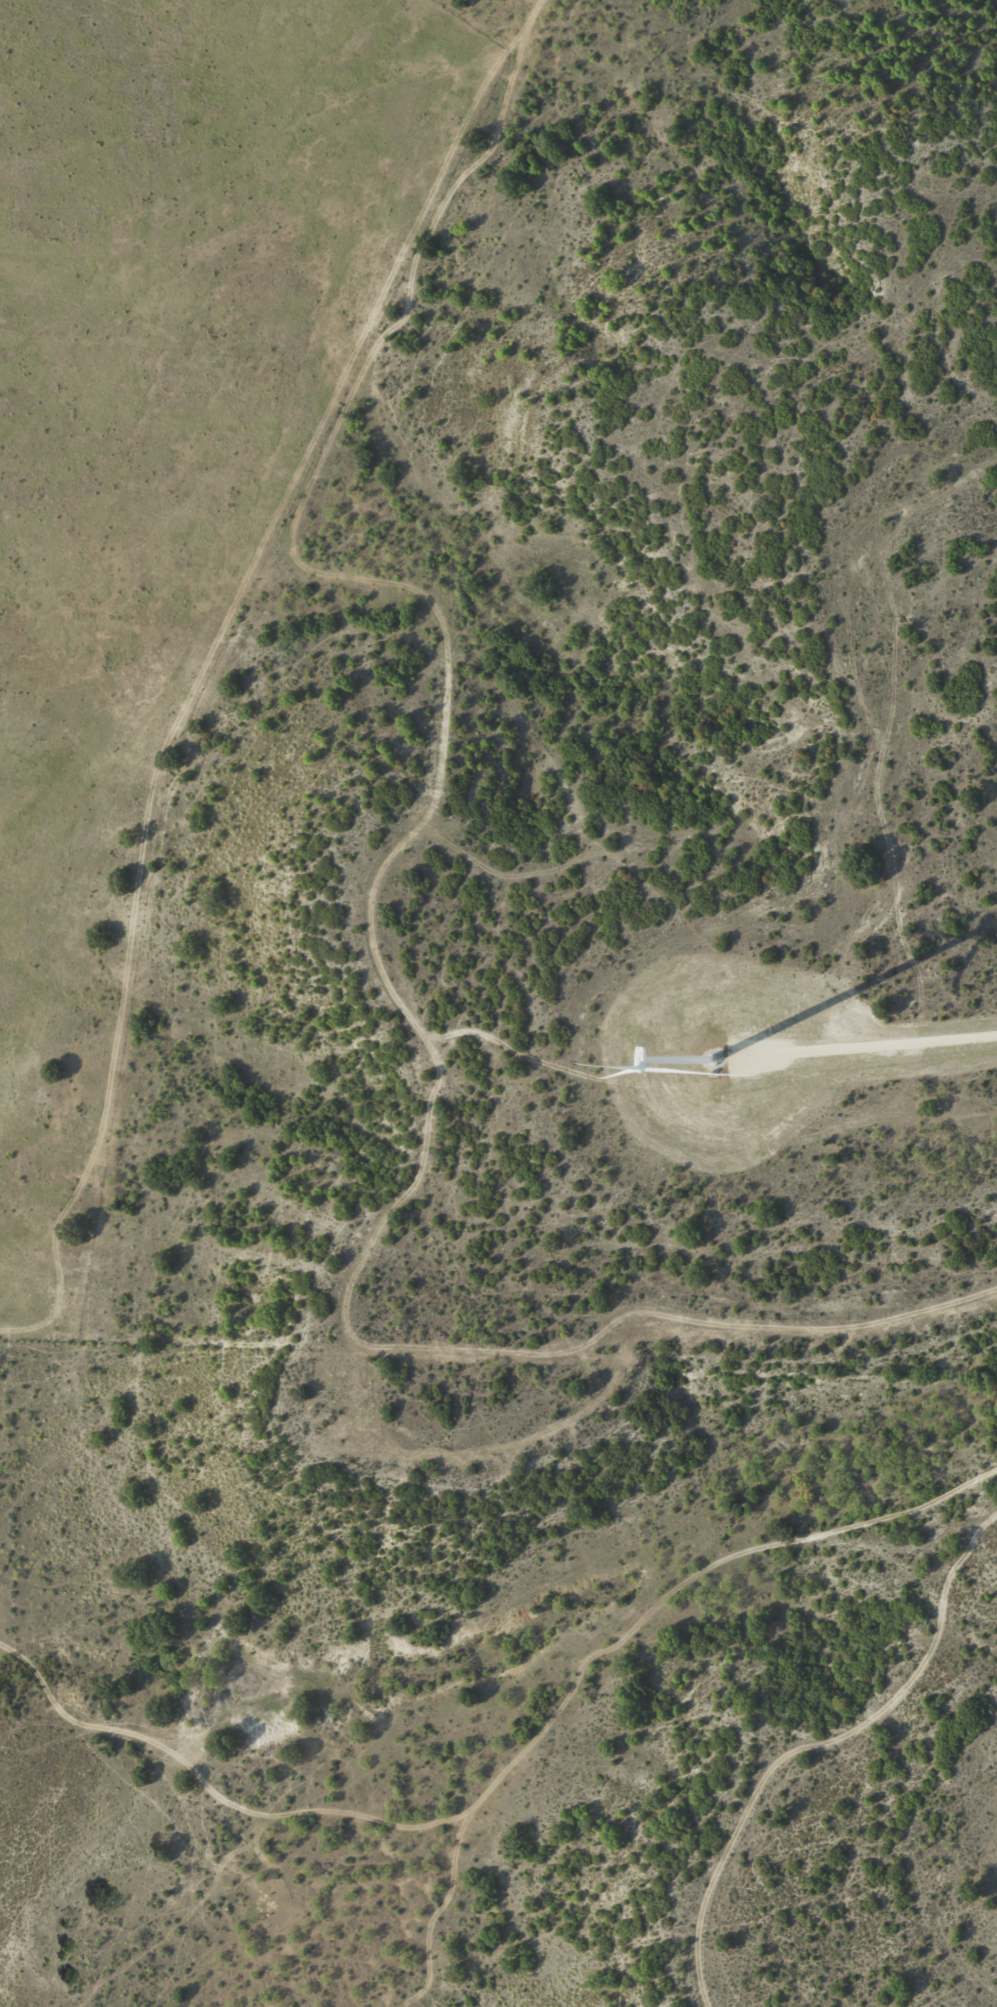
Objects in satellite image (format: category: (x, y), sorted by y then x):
wind turbine: (712, 1060)

